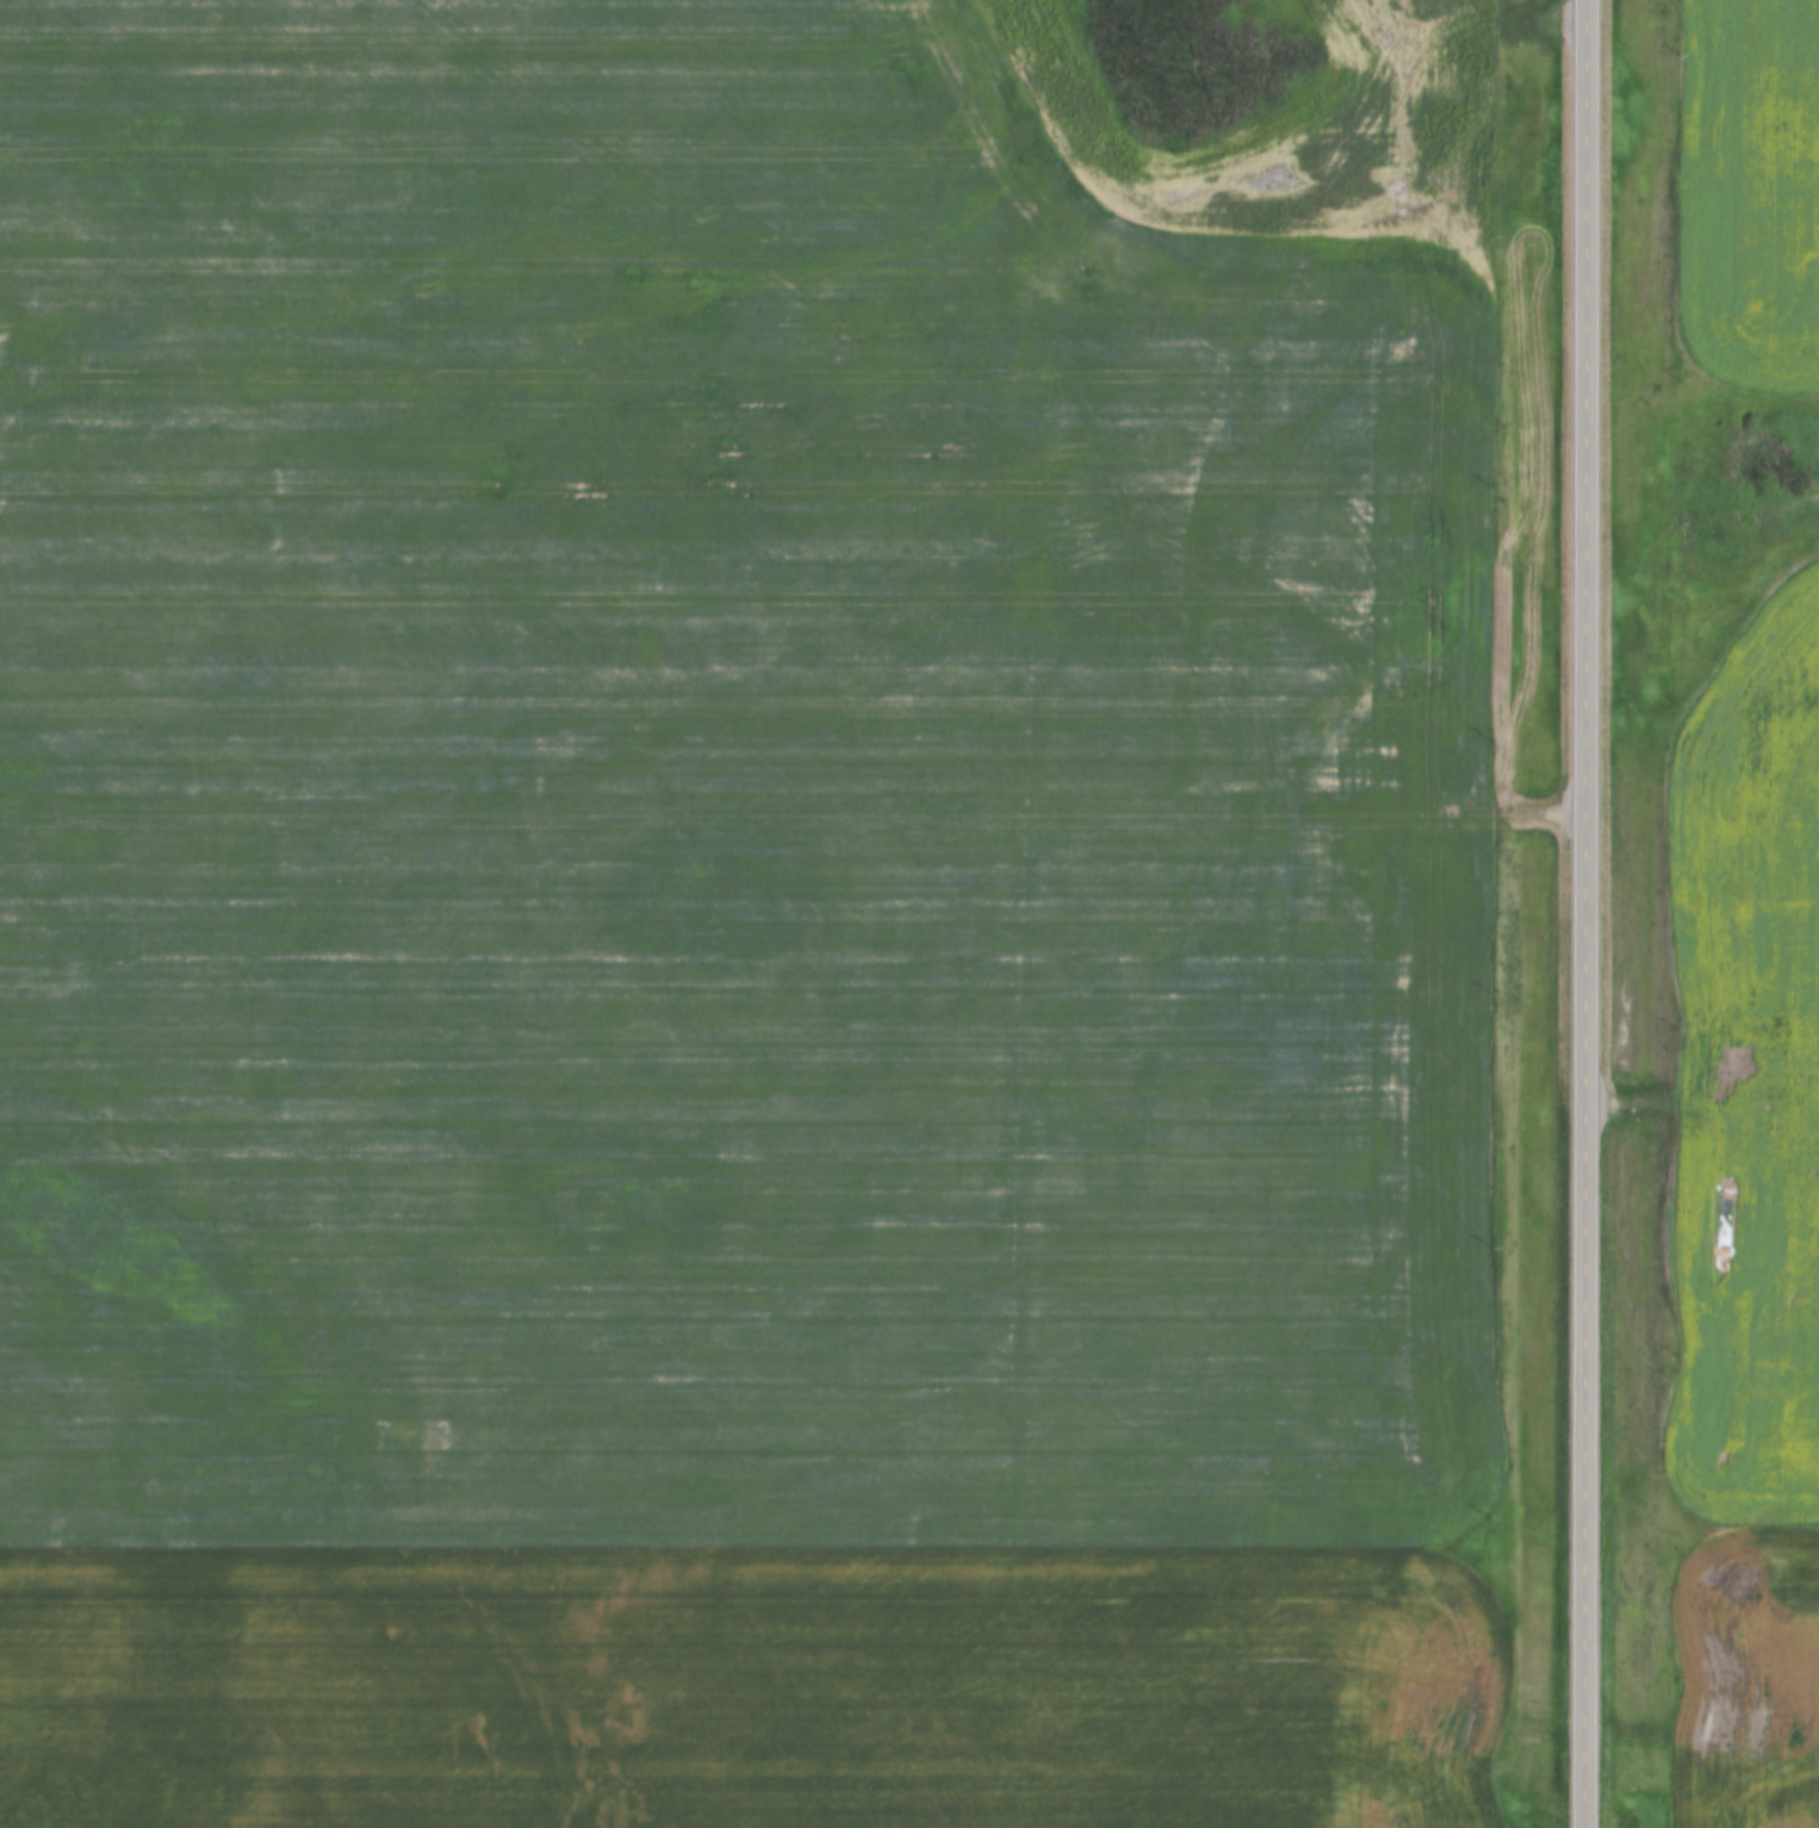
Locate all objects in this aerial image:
road: (1578, 913)

